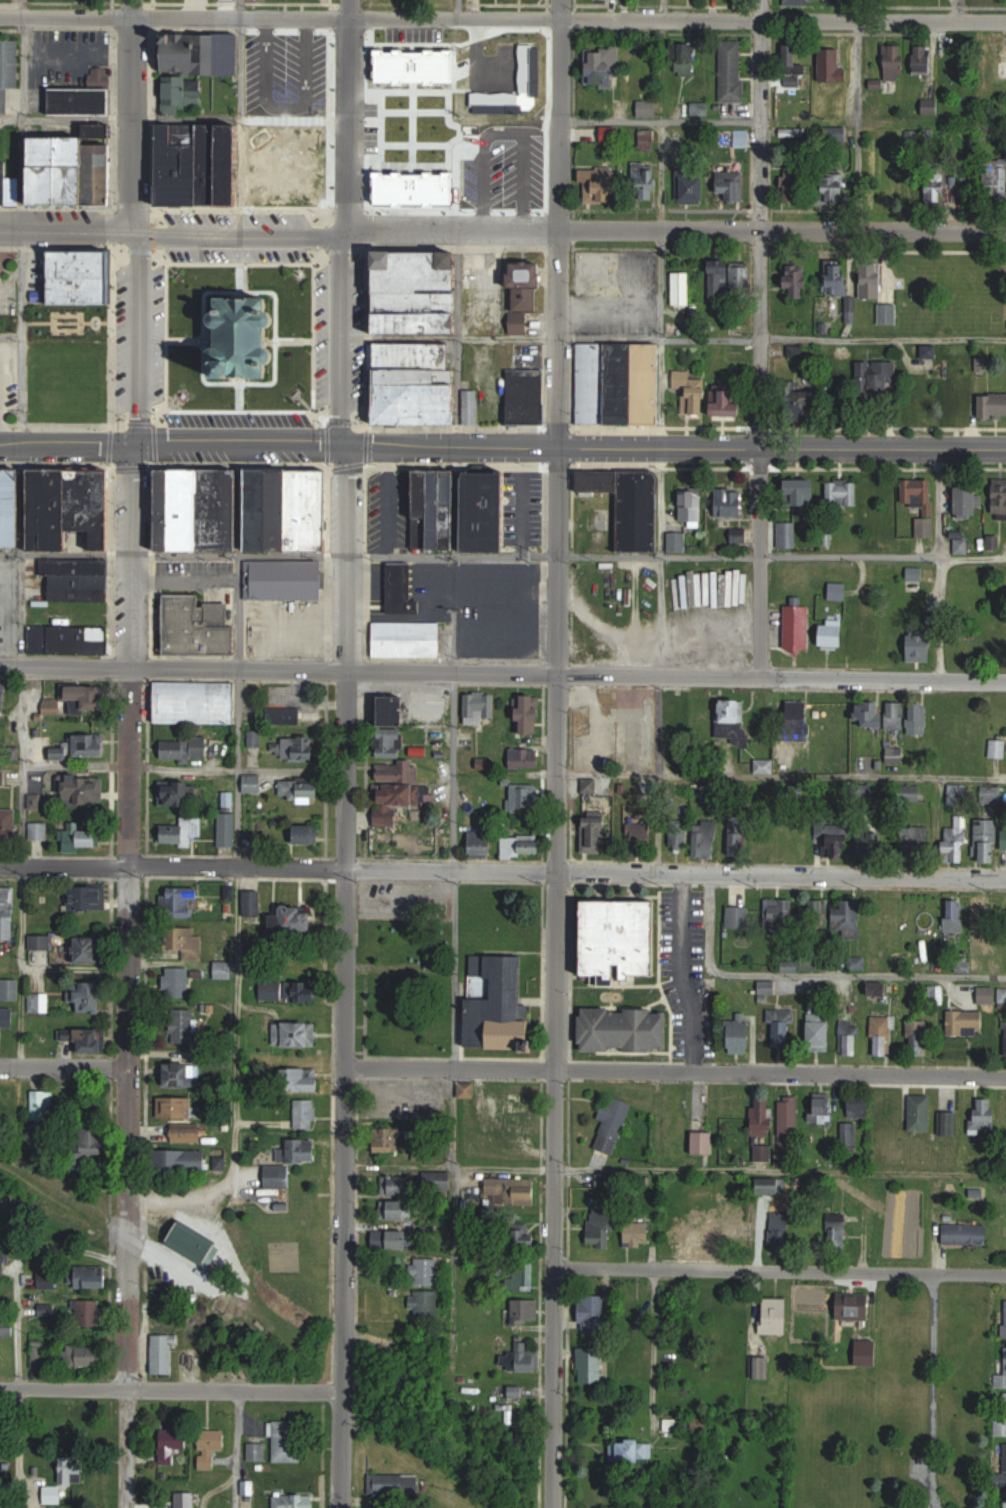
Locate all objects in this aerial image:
building: (801, 2)
road: (957, 10)
road: (175, 17)
road: (678, 17)
building: (515, 58)
building: (687, 58)
building: (923, 59)
road: (62, 60)
building: (895, 63)
building: (793, 66)
building: (603, 67)
building: (832, 67)
building: (1003, 69)
building: (8, 70)
building: (732, 70)
building: (250, 74)
road: (22, 76)
road: (402, 94)
building: (86, 97)
building: (513, 97)
building: (929, 106)
building: (649, 108)
road: (857, 114)
road: (243, 115)
road: (347, 116)
road: (508, 118)
road: (611, 120)
road: (457, 125)
building: (743, 137)
building: (526, 148)
building: (420, 150)
building: (230, 161)
building: (76, 174)
building: (10, 180)
building: (644, 182)
building: (732, 183)
building: (995, 183)
building: (795, 185)
building: (601, 186)
building: (692, 186)
building: (912, 186)
building: (837, 187)
building: (935, 195)
road: (559, 223)
road: (133, 224)
road: (782, 230)
road: (279, 232)
parking lot: (237, 255)
road: (312, 264)
building: (837, 276)
building: (83, 278)
building: (872, 278)
building: (798, 279)
building: (728, 281)
road: (22, 287)
building: (682, 287)
road: (660, 290)
building: (423, 292)
building: (525, 292)
building: (887, 313)
parking lot: (157, 333)
parking lot: (322, 336)
building: (243, 337)
road: (761, 339)
road: (833, 339)
road: (341, 342)
building: (881, 379)
building: (621, 382)
building: (421, 386)
building: (692, 394)
road: (1, 396)
building: (526, 396)
building: (954, 401)
building: (730, 402)
building: (993, 404)
parking lot: (241, 420)
road: (675, 447)
road: (173, 449)
building: (804, 490)
building: (842, 491)
building: (970, 498)
building: (999, 498)
building: (437, 499)
building: (630, 504)
building: (691, 504)
building: (732, 504)
building: (924, 504)
building: (57, 507)
building: (201, 509)
building: (290, 509)
road: (523, 515)
building: (787, 534)
road: (172, 554)
road: (452, 555)
road: (782, 557)
road: (560, 561)
building: (80, 579)
building: (284, 580)
building: (838, 590)
road: (633, 599)
road: (660, 618)
road: (942, 619)
building: (199, 626)
building: (798, 626)
road: (606, 628)
building: (834, 635)
building: (69, 639)
building: (407, 639)
building: (861, 641)
building: (921, 646)
road: (171, 668)
road: (674, 678)
building: (4, 695)
building: (77, 699)
building: (197, 701)
building: (481, 706)
building: (395, 709)
building: (530, 714)
building: (678, 714)
building: (824, 714)
building: (884, 714)
building: (845, 715)
building: (919, 716)
building: (799, 717)
building: (732, 719)
building: (945, 720)
building: (974, 725)
building: (289, 735)
building: (81, 746)
building: (185, 747)
building: (998, 748)
building: (524, 757)
building: (487, 763)
building: (764, 765)
road: (183, 768)
road: (235, 769)
road: (449, 771)
road: (782, 776)
building: (2, 777)
building: (396, 777)
building: (253, 784)
building: (85, 786)
building: (301, 789)
building: (178, 792)
building: (910, 793)
building: (525, 796)
building: (8, 826)
building: (228, 829)
building: (39, 830)
building: (183, 831)
building: (679, 833)
building: (307, 834)
building: (595, 835)
building: (737, 835)
building: (82, 836)
building: (640, 836)
building: (256, 838)
building: (706, 838)
building: (915, 838)
building: (1004, 838)
building: (956, 840)
building: (986, 840)
building: (481, 841)
building: (522, 843)
building: (840, 844)
road: (21, 866)
road: (172, 868)
road: (676, 872)
building: (87, 898)
building: (180, 901)
building: (252, 904)
building: (7, 912)
building: (780, 912)
building: (980, 913)
building: (955, 914)
building: (739, 915)
building: (298, 919)
building: (849, 919)
road: (346, 921)
building: (619, 938)
building: (189, 943)
building: (40, 948)
building: (90, 949)
road: (400, 965)
road: (454, 968)
building: (223, 969)
road: (686, 972)
road: (811, 974)
road: (128, 978)
building: (177, 981)
building: (10, 988)
building: (880, 988)
building: (290, 990)
building: (935, 994)
building: (88, 995)
building: (988, 995)
building: (501, 1009)
building: (7, 1016)
road: (236, 1021)
building: (966, 1022)
building: (183, 1025)
building: (781, 1026)
building: (625, 1029)
building: (821, 1031)
building: (65, 1033)
building: (295, 1033)
building: (742, 1033)
building: (883, 1035)
building: (850, 1037)
building: (919, 1037)
building: (1005, 1038)
building: (92, 1039)
road: (557, 1058)
road: (64, 1065)
road: (450, 1066)
road: (781, 1073)
building: (182, 1074)
building: (303, 1079)
building: (467, 1090)
building: (8, 1098)
building: (43, 1104)
building: (860, 1106)
building: (176, 1107)
building: (824, 1108)
building: (921, 1112)
building: (305, 1114)
building: (986, 1114)
building: (763, 1115)
road: (455, 1119)
building: (789, 1121)
building: (950, 1123)
building: (613, 1124)
building: (850, 1133)
building: (188, 1134)
building: (390, 1139)
building: (93, 1141)
building: (702, 1142)
building: (304, 1150)
building: (763, 1151)
building: (180, 1160)
road: (674, 1172)
building: (279, 1177)
building: (772, 1184)
building: (401, 1185)
building: (514, 1190)
road: (180, 1199)
building: (400, 1210)
building: (600, 1227)
building: (637, 1232)
building: (713, 1232)
building: (838, 1232)
building: (783, 1233)
building: (966, 1233)
building: (401, 1239)
building: (522, 1239)
building: (194, 1242)
building: (3, 1262)
road: (18, 1267)
road: (780, 1270)
building: (426, 1271)
building: (523, 1276)
building: (93, 1277)
building: (47, 1278)
building: (426, 1303)
building: (854, 1306)
building: (526, 1309)
building: (592, 1311)
building: (88, 1312)
building: (776, 1315)
building: (1005, 1318)
building: (5, 1333)
road: (652, 1346)
building: (40, 1351)
building: (164, 1354)
building: (85, 1355)
building: (871, 1357)
building: (525, 1360)
building: (590, 1365)
building: (1002, 1376)
road: (171, 1390)
road: (934, 1391)
building: (516, 1392)
building: (1002, 1412)
building: (696, 1423)
building: (287, 1440)
building: (172, 1443)
building: (211, 1446)
road: (19, 1448)
road: (237, 1449)
road: (342, 1449)
building: (632, 1450)
building: (258, 1451)
building: (1005, 1462)
building: (76, 1474)
road: (555, 1474)
building: (395, 1485)
building: (185, 1499)
building: (295, 1500)
building: (1005, 1500)

